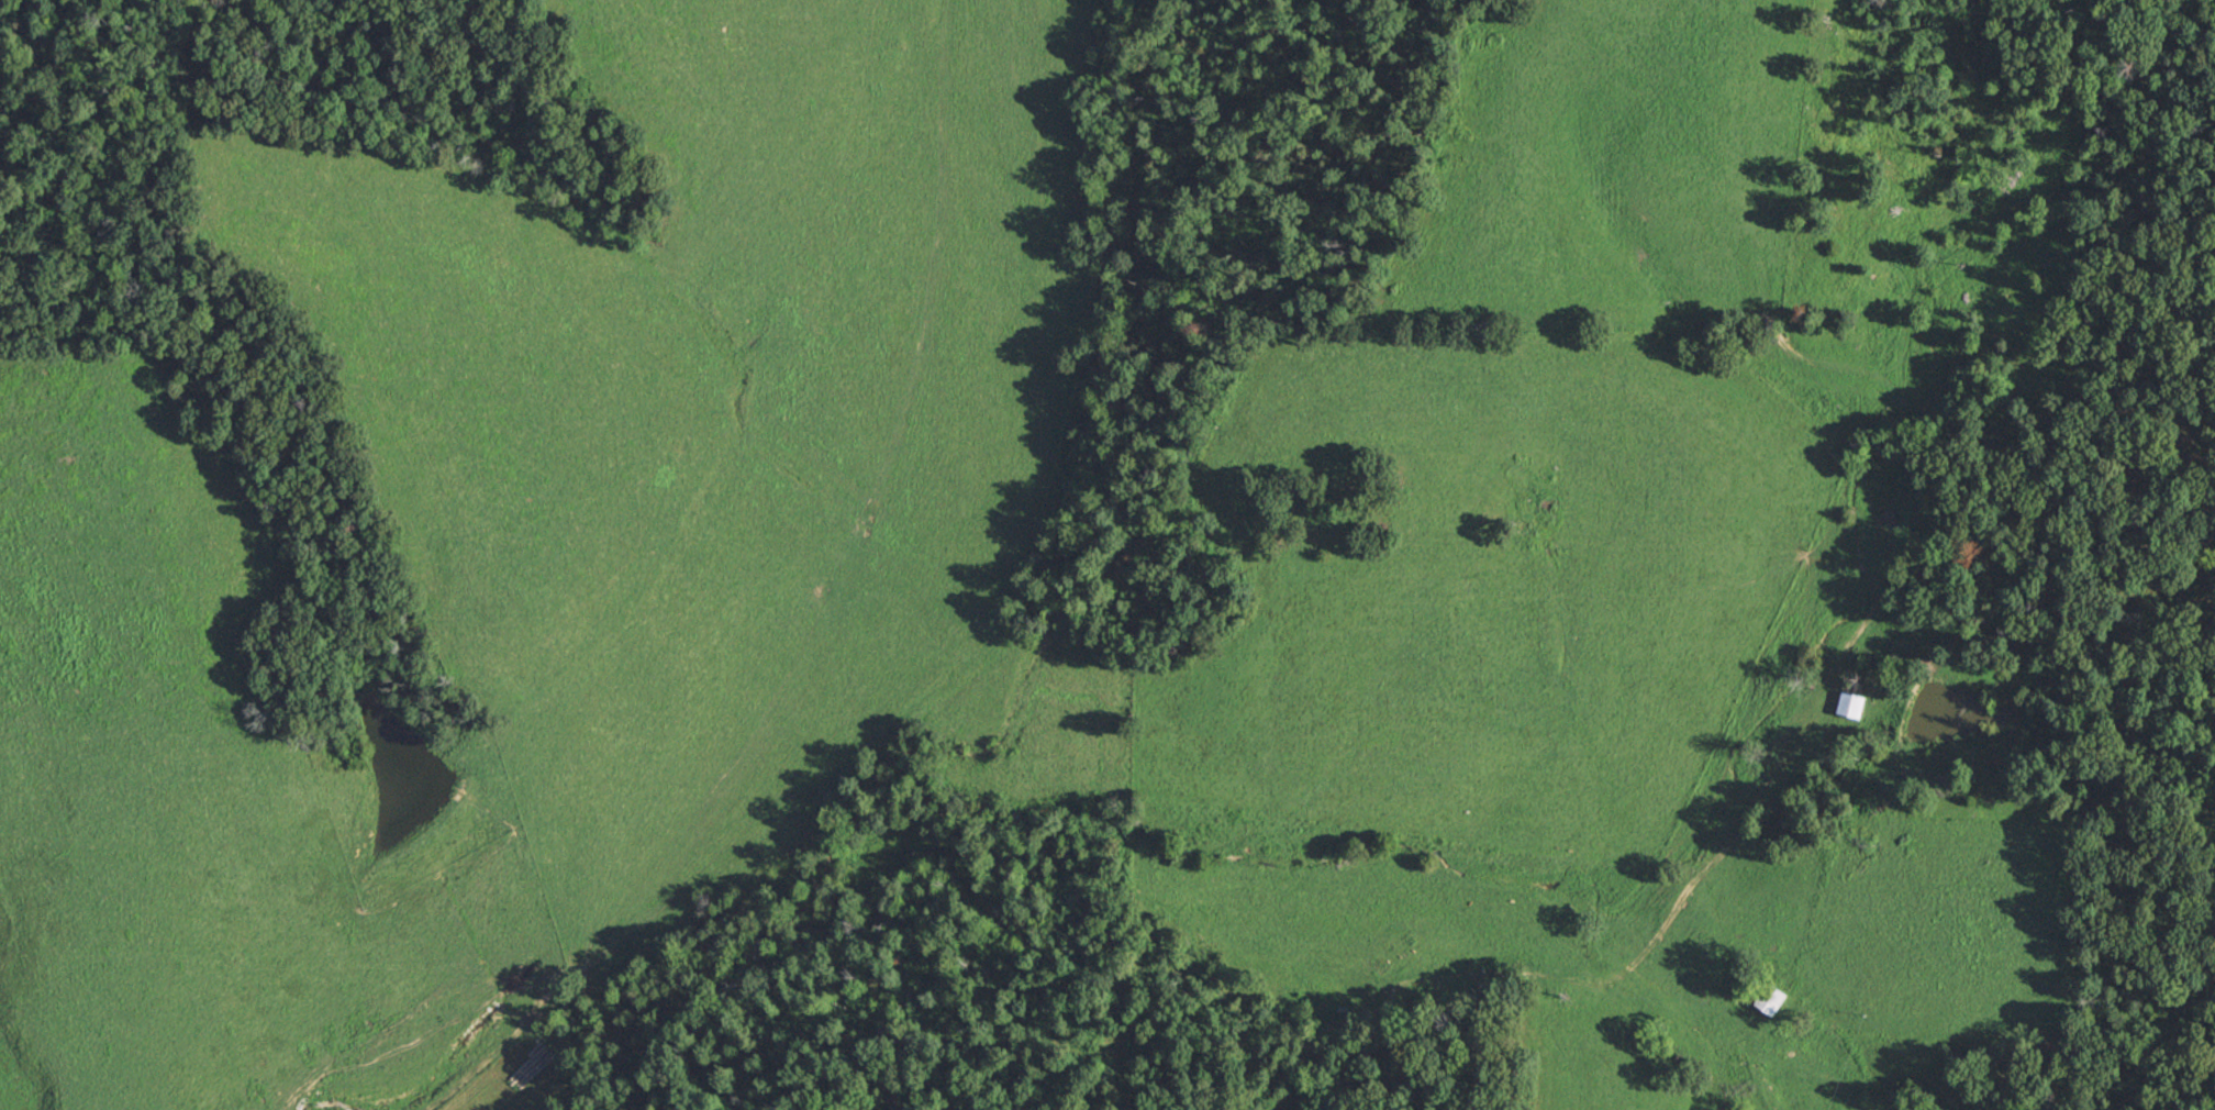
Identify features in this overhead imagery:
building: (1850, 706)
building: (1770, 1000)

